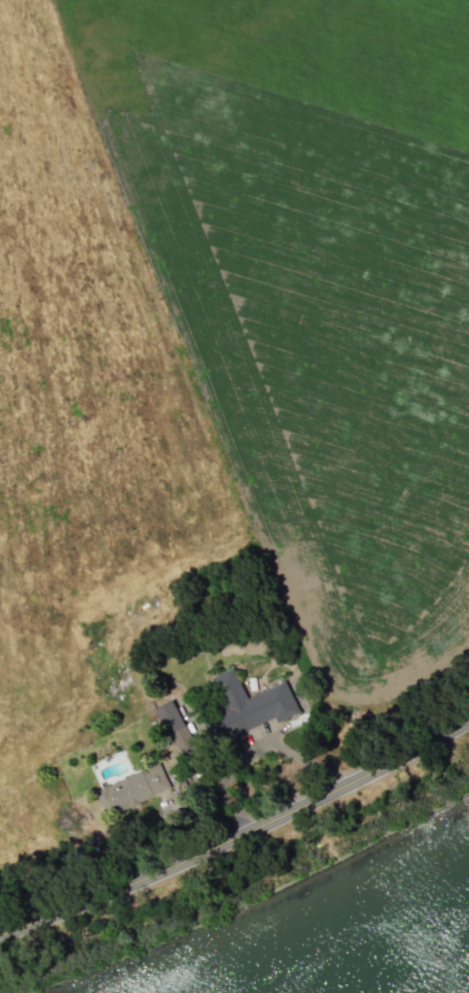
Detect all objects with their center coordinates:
building: (250, 704)
building: (131, 790)
road: (237, 835)
river: (403, 964)

